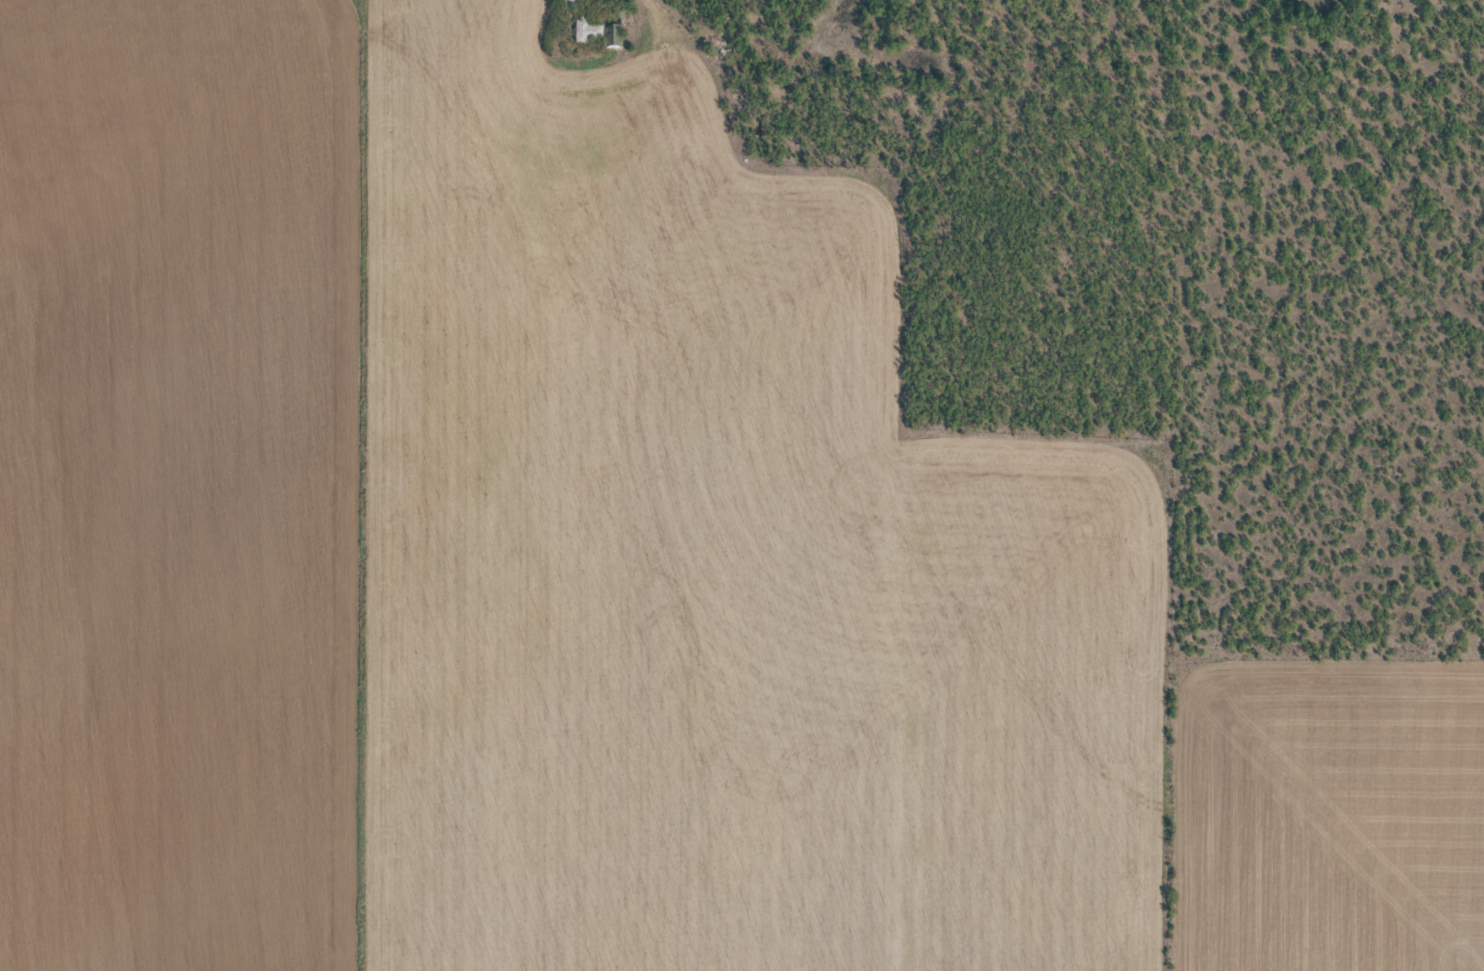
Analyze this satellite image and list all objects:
building: (571, 2)
building: (594, 31)

